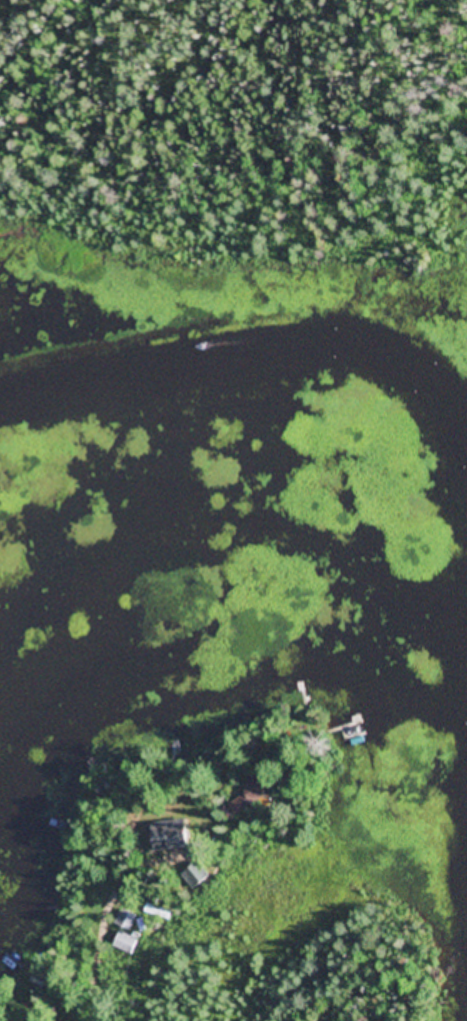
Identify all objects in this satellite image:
river: (241, 495)
building: (251, 795)
building: (173, 834)
building: (197, 875)
building: (126, 920)
building: (126, 944)

